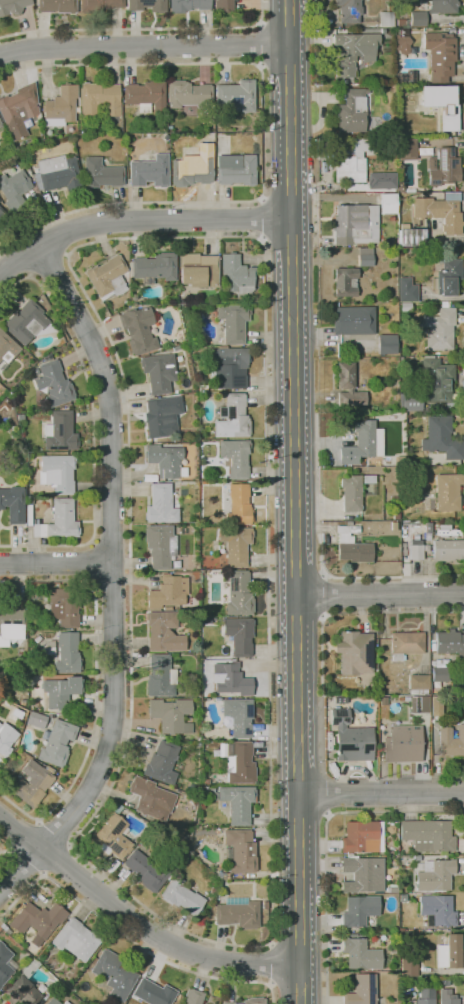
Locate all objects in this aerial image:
building: (189, 4)
building: (224, 4)
building: (98, 5)
building: (147, 5)
building: (13, 6)
building: (57, 6)
building: (443, 6)
building: (349, 10)
building: (418, 18)
building: (387, 19)
road: (315, 20)
building: (401, 22)
road: (141, 29)
building: (403, 43)
road: (261, 45)
road: (144, 46)
building: (353, 51)
building: (440, 55)
building: (408, 76)
building: (188, 94)
building: (237, 95)
building: (146, 96)
building: (99, 101)
building: (440, 103)
building: (61, 106)
building: (19, 109)
building: (352, 111)
building: (0, 124)
building: (1, 134)
building: (165, 136)
building: (205, 139)
road: (264, 140)
building: (407, 149)
building: (352, 159)
building: (443, 167)
building: (193, 169)
building: (149, 171)
building: (238, 172)
building: (56, 174)
building: (101, 174)
building: (380, 180)
building: (14, 189)
road: (317, 190)
building: (409, 190)
road: (332, 197)
road: (463, 200)
building: (387, 203)
building: (439, 213)
building: (3, 216)
road: (261, 219)
road: (139, 220)
building: (355, 224)
road: (71, 231)
building: (411, 236)
road: (453, 240)
building: (365, 256)
road: (20, 259)
road: (48, 264)
building: (153, 268)
building: (198, 270)
building: (237, 274)
building: (107, 277)
building: (448, 277)
building: (346, 281)
building: (407, 290)
building: (405, 307)
road: (460, 318)
building: (353, 321)
building: (233, 322)
building: (27, 323)
building: (138, 329)
building: (439, 330)
building: (387, 344)
building: (7, 348)
building: (175, 348)
building: (229, 366)
building: (158, 373)
building: (436, 380)
building: (54, 383)
building: (348, 387)
building: (202, 388)
building: (411, 400)
building: (162, 416)
building: (20, 417)
building: (232, 418)
road: (94, 426)
building: (60, 432)
building: (441, 438)
building: (362, 443)
building: (235, 458)
building: (400, 459)
building: (412, 459)
building: (165, 461)
building: (57, 473)
building: (368, 479)
road: (294, 485)
building: (448, 492)
building: (351, 493)
building: (47, 494)
building: (394, 499)
building: (13, 504)
building: (161, 504)
building: (238, 506)
building: (28, 511)
building: (396, 515)
building: (58, 521)
building: (394, 526)
road: (111, 542)
building: (160, 545)
building: (235, 545)
building: (352, 545)
building: (416, 549)
building: (448, 550)
road: (56, 564)
road: (339, 576)
road: (111, 579)
road: (113, 579)
building: (167, 592)
road: (380, 593)
building: (239, 594)
road: (325, 594)
building: (64, 606)
road: (354, 614)
building: (12, 624)
building: (163, 632)
building: (239, 635)
building: (37, 639)
building: (406, 644)
building: (450, 644)
building: (48, 647)
building: (354, 652)
building: (67, 653)
building: (440, 674)
building: (160, 677)
building: (231, 679)
building: (418, 684)
road: (96, 688)
building: (60, 691)
building: (340, 700)
building: (383, 700)
building: (418, 704)
building: (435, 705)
building: (16, 713)
building: (170, 715)
building: (239, 716)
building: (36, 720)
building: (6, 738)
building: (351, 738)
building: (450, 742)
building: (57, 743)
building: (403, 744)
building: (162, 763)
building: (239, 763)
building: (179, 766)
building: (49, 769)
building: (32, 784)
building: (211, 793)
road: (381, 794)
building: (151, 798)
building: (109, 802)
building: (237, 803)
building: (116, 808)
building: (390, 828)
road: (55, 832)
road: (24, 835)
building: (428, 836)
building: (110, 837)
building: (360, 837)
road: (326, 841)
road: (5, 851)
building: (241, 852)
park: (6, 855)
road: (57, 860)
road: (27, 863)
building: (146, 871)
building: (362, 874)
building: (434, 875)
building: (393, 890)
building: (181, 896)
building: (207, 900)
building: (359, 910)
building: (437, 910)
building: (239, 912)
road: (272, 915)
building: (38, 919)
road: (136, 923)
road: (130, 939)
building: (75, 940)
building: (451, 952)
building: (360, 955)
building: (5, 964)
road: (270, 964)
building: (409, 966)
building: (114, 974)
building: (22, 986)
road: (300, 988)
building: (49, 989)
building: (361, 990)
building: (153, 993)
building: (425, 996)
building: (191, 997)
building: (447, 997)
building: (254, 1000)
building: (52, 1001)
building: (62, 1003)
building: (65, 1003)
building: (229, 1003)

